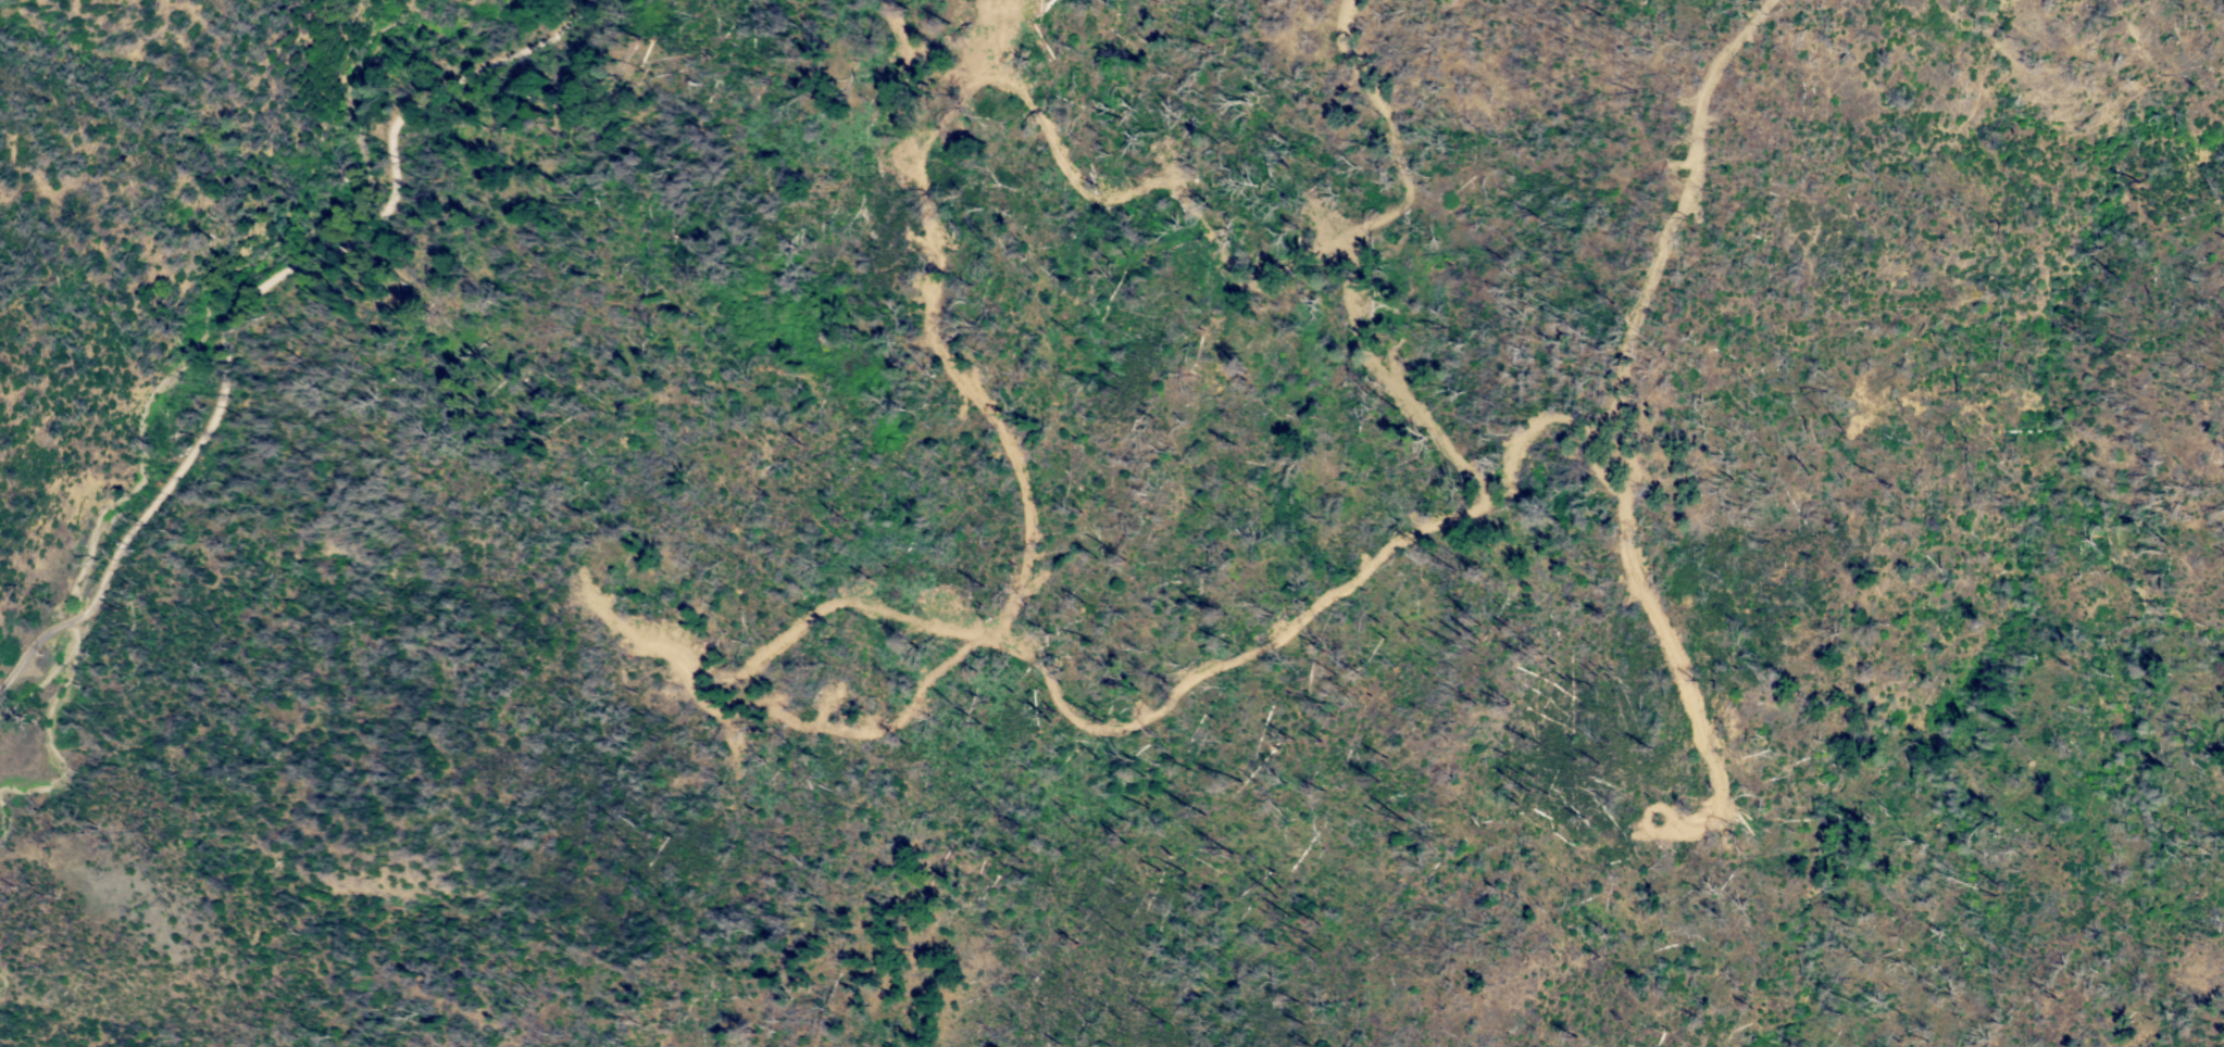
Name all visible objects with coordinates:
road: (14, 665)

